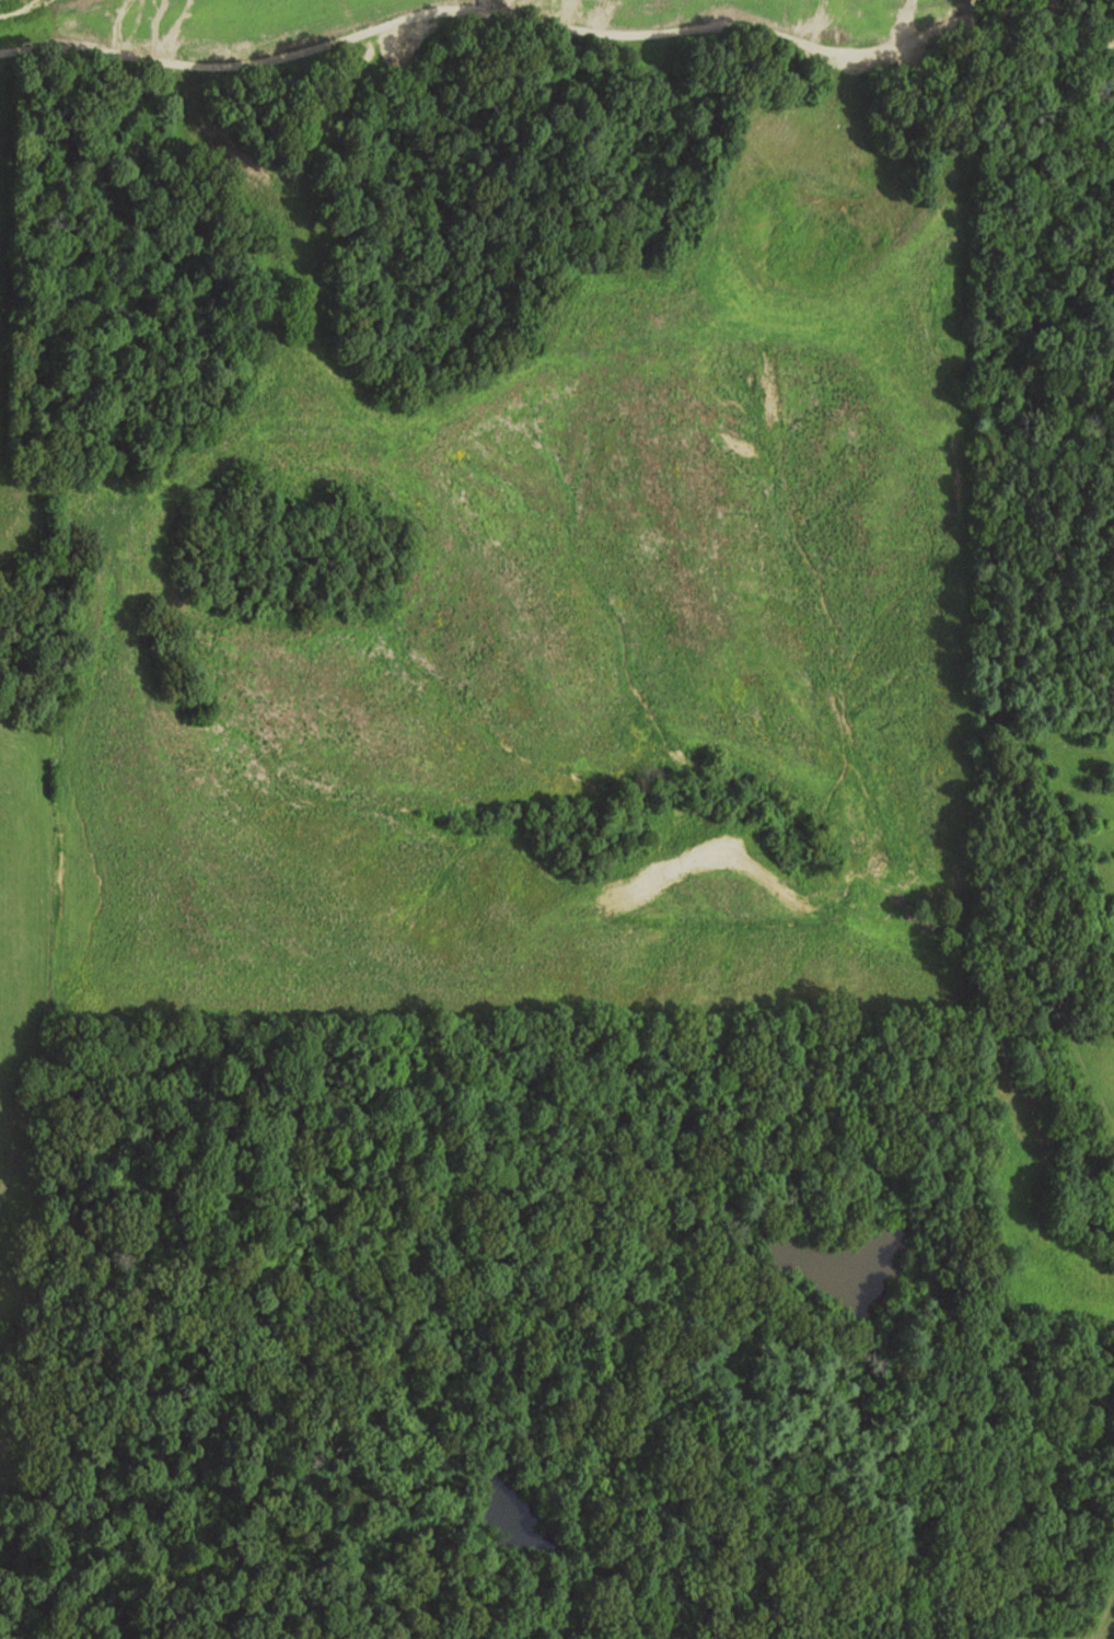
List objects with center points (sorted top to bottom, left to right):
road: (555, 25)

